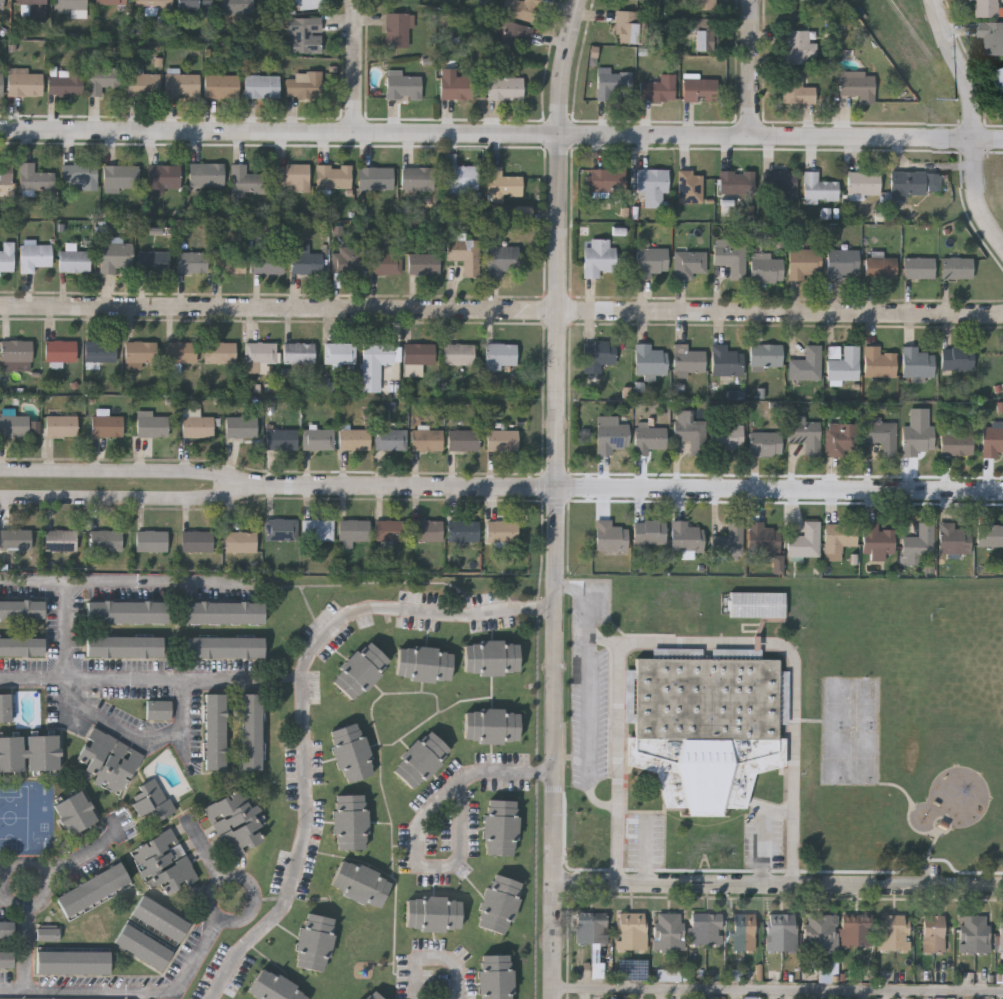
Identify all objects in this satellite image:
building: (794, 0)
building: (636, 1)
building: (110, 3)
building: (305, 3)
building: (1, 5)
building: (153, 5)
building: (194, 6)
building: (706, 6)
building: (34, 8)
building: (71, 8)
building: (236, 8)
building: (985, 8)
building: (523, 10)
building: (627, 29)
building: (398, 31)
building: (304, 35)
building: (705, 36)
building: (992, 38)
building: (514, 39)
building: (800, 49)
road: (358, 65)
road: (752, 67)
building: (1000, 77)
building: (123, 82)
building: (66, 84)
building: (613, 84)
building: (25, 85)
building: (1, 86)
building: (304, 86)
building: (403, 86)
building: (182, 87)
building: (222, 87)
building: (262, 87)
building: (858, 87)
building: (457, 89)
building: (505, 89)
building: (659, 90)
building: (700, 91)
building: (796, 91)
power tower: (954, 106)
road: (974, 120)
road: (501, 133)
building: (6, 175)
building: (81, 177)
building: (206, 177)
building: (292, 177)
building: (121, 178)
building: (334, 178)
building: (164, 179)
building: (35, 180)
building: (376, 180)
building: (462, 180)
building: (418, 181)
building: (603, 181)
building: (247, 183)
building: (503, 184)
building: (737, 184)
building: (864, 185)
building: (913, 185)
building: (782, 186)
building: (653, 188)
building: (690, 188)
building: (819, 190)
building: (524, 213)
building: (465, 256)
building: (116, 258)
building: (7, 259)
building: (35, 259)
building: (598, 259)
building: (731, 259)
building: (502, 262)
building: (74, 263)
building: (154, 263)
building: (347, 263)
building: (652, 263)
building: (192, 264)
building: (230, 264)
building: (305, 264)
building: (842, 264)
building: (268, 265)
building: (386, 265)
building: (423, 265)
building: (690, 265)
building: (803, 265)
building: (881, 269)
building: (766, 270)
building: (919, 270)
building: (958, 270)
road: (501, 311)
building: (17, 352)
building: (60, 352)
building: (100, 353)
building: (180, 353)
building: (220, 354)
building: (500, 354)
building: (140, 355)
building: (299, 355)
building: (340, 355)
building: (419, 355)
building: (458, 355)
building: (599, 356)
building: (259, 357)
building: (766, 357)
building: (957, 360)
building: (688, 361)
building: (649, 362)
building: (726, 362)
building: (843, 364)
building: (878, 364)
building: (917, 364)
building: (376, 365)
building: (807, 366)
building: (13, 425)
building: (152, 427)
building: (60, 428)
building: (107, 428)
building: (197, 428)
building: (241, 428)
building: (691, 433)
building: (806, 435)
building: (917, 435)
building: (882, 437)
building: (728, 438)
building: (613, 439)
building: (281, 441)
building: (318, 441)
building: (354, 441)
building: (651, 441)
building: (842, 441)
building: (992, 441)
building: (391, 442)
building: (427, 442)
building: (463, 442)
building: (502, 442)
building: (765, 445)
building: (957, 446)
road: (131, 471)
road: (632, 488)
road: (559, 498)
road: (132, 499)
building: (353, 530)
building: (282, 531)
building: (318, 531)
building: (390, 532)
building: (426, 532)
building: (502, 532)
building: (463, 533)
building: (650, 535)
building: (989, 536)
building: (610, 538)
building: (687, 538)
building: (841, 538)
building: (763, 540)
building: (952, 540)
building: (16, 541)
building: (60, 542)
building: (729, 542)
building: (878, 542)
building: (106, 543)
building: (151, 543)
building: (197, 543)
building: (241, 543)
building: (806, 543)
building: (918, 546)
building: (778, 564)
road: (154, 581)
road: (587, 597)
building: (757, 606)
building: (22, 608)
building: (127, 612)
building: (223, 612)
road: (64, 628)
road: (605, 638)
road: (702, 641)
building: (21, 646)
building: (124, 646)
building: (225, 647)
building: (490, 657)
building: (423, 663)
building: (360, 668)
road: (245, 676)
building: (5, 710)
road: (306, 710)
building: (158, 711)
road: (183, 714)
building: (491, 725)
building: (705, 726)
park: (912, 726)
park: (954, 726)
road: (589, 730)
building: (215, 733)
building: (251, 734)
building: (29, 751)
building: (349, 752)
building: (420, 758)
building: (107, 761)
building: (151, 802)
building: (75, 815)
building: (348, 820)
road: (421, 823)
building: (235, 825)
building: (499, 826)
road: (206, 848)
road: (80, 854)
building: (165, 863)
building: (358, 882)
road: (779, 885)
building: (91, 889)
road: (11, 893)
road: (6, 896)
building: (497, 902)
building: (432, 913)
road: (225, 914)
building: (160, 919)
building: (6, 928)
building: (591, 929)
building: (705, 930)
building: (632, 932)
building: (669, 932)
building: (46, 933)
building: (855, 933)
building: (895, 933)
building: (743, 934)
building: (781, 934)
building: (821, 934)
building: (934, 935)
building: (975, 935)
building: (1001, 936)
building: (313, 940)
road: (25, 945)
building: (143, 947)
building: (6, 958)
road: (436, 958)
building: (73, 961)
building: (635, 971)
building: (669, 975)
building: (494, 976)
road: (779, 985)
building: (273, 986)
road: (132, 989)
building: (373, 995)
building: (751, 997)
building: (359, 998)

